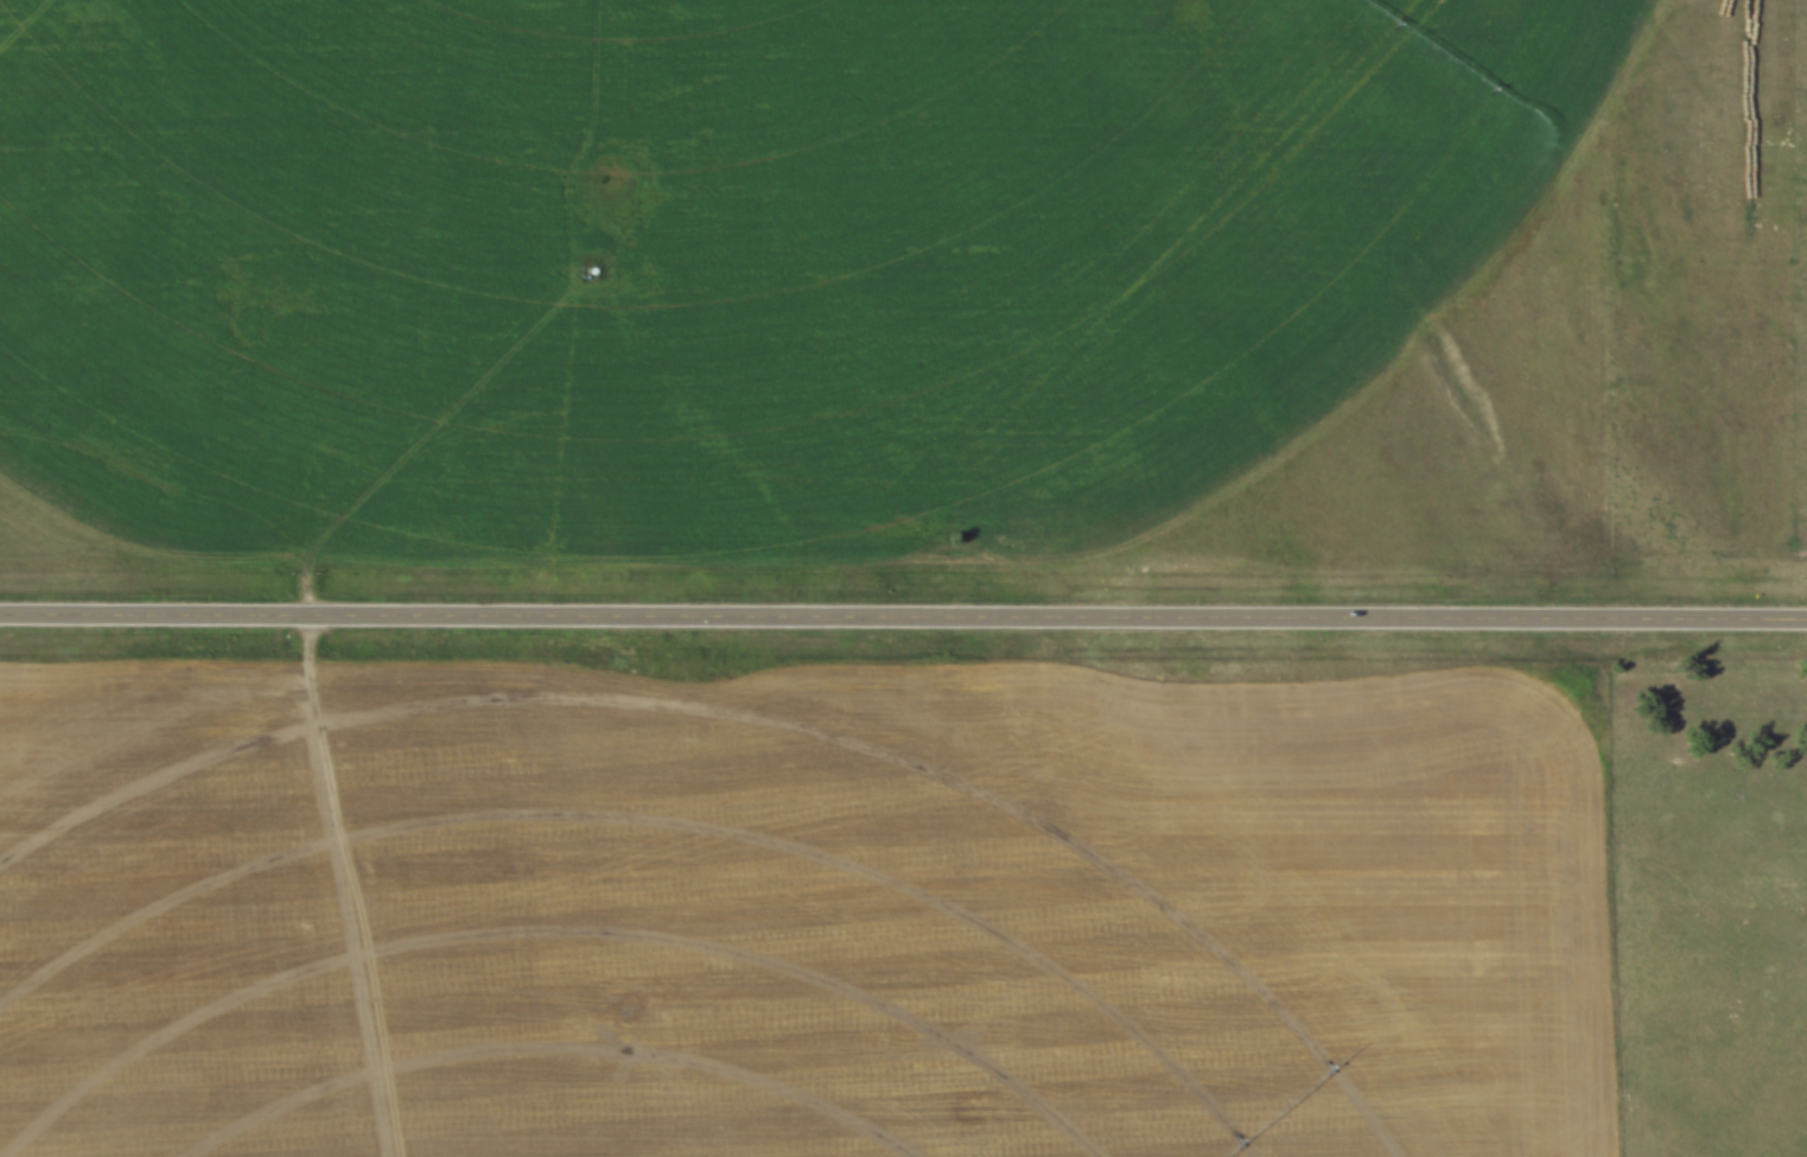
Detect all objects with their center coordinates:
road: (903, 611)

